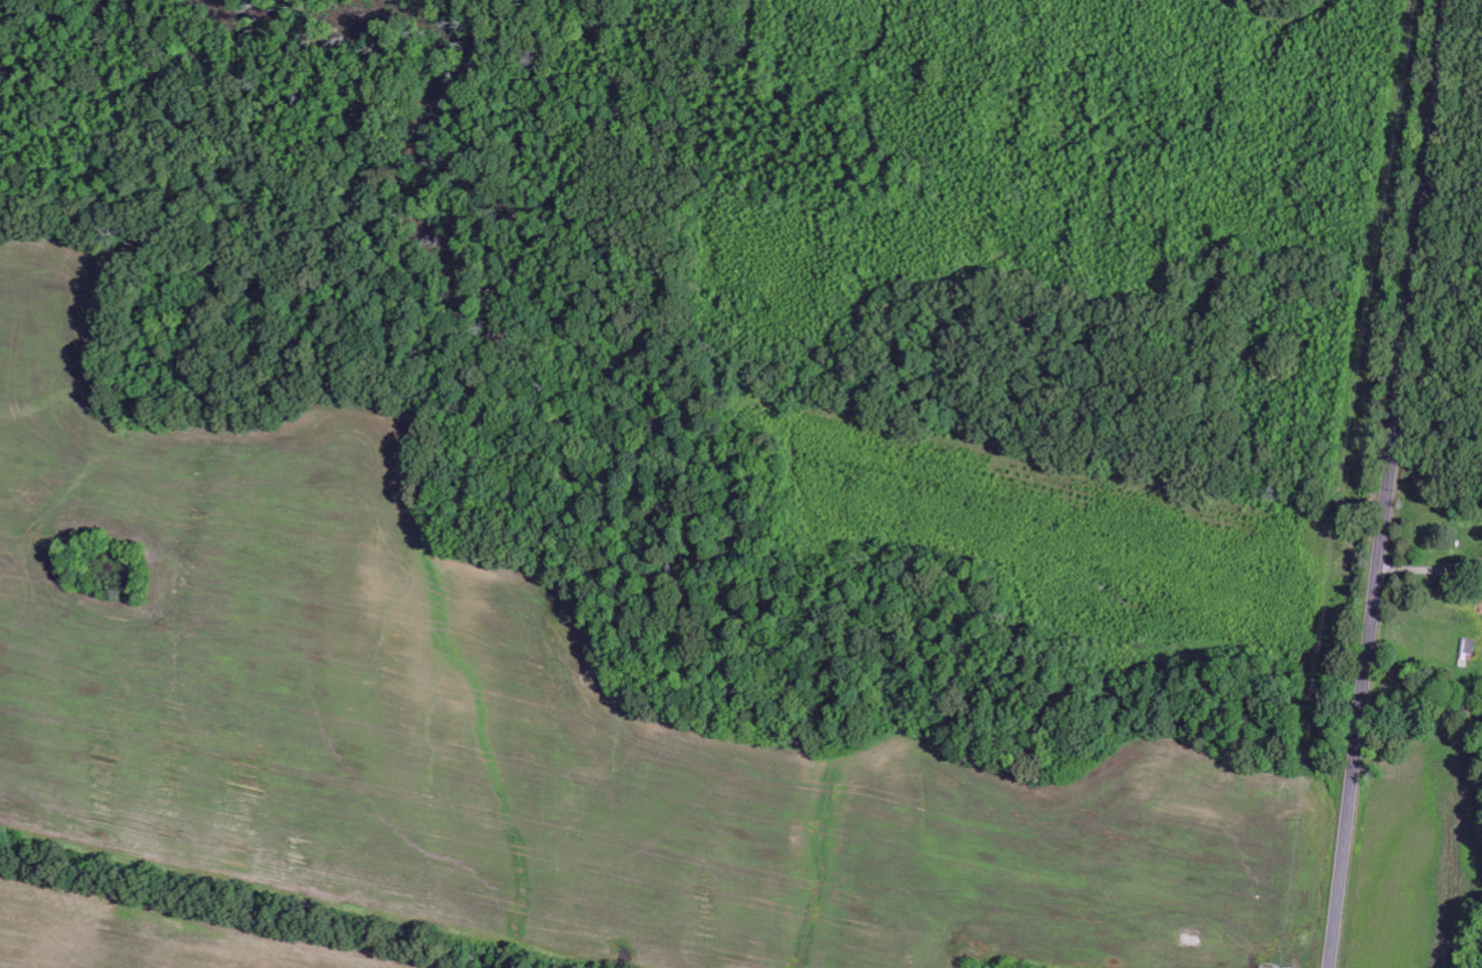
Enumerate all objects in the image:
road: (1390, 483)

